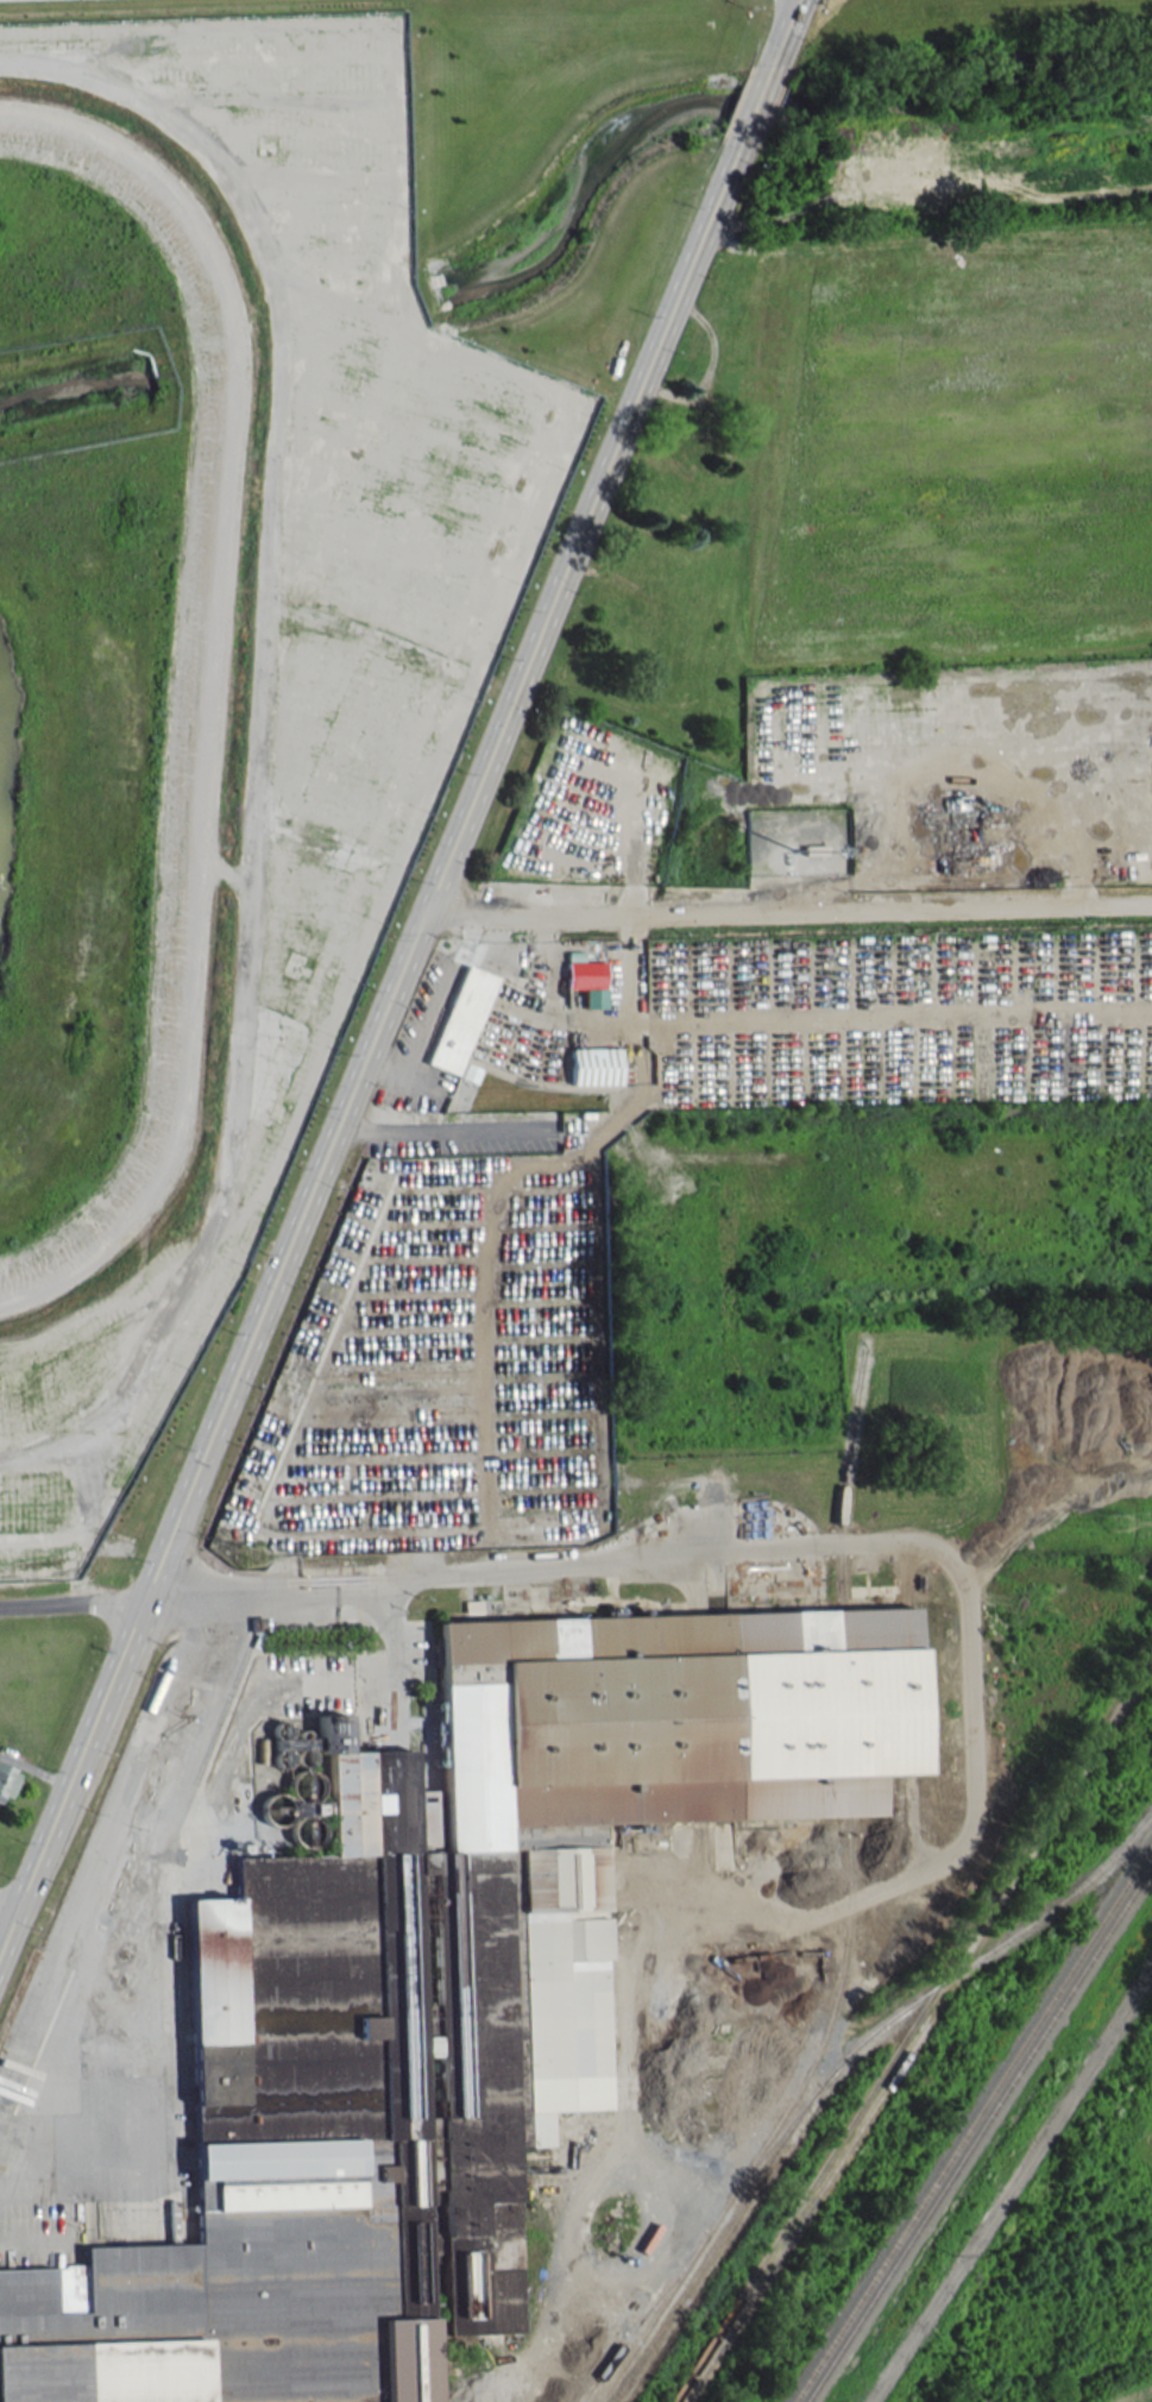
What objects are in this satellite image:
road: (782, 34)
road: (756, 103)
building: (695, 426)
crop: (951, 442)
raceway: (203, 678)
building: (390, 748)
road: (229, 875)
road: (787, 910)
building: (586, 981)
road: (440, 992)
building: (460, 1019)
road: (370, 1045)
road: (399, 1063)
building: (594, 1065)
road: (443, 1128)
road: (203, 1247)
power tower: (1119, 1515)
power tower: (253, 1553)
road: (234, 1598)
road: (73, 1603)
building: (7, 1780)
road: (8, 1907)
railway: (838, 1987)
building: (443, 1994)
railway: (909, 2026)
railway: (837, 2065)
railway: (970, 2120)
railway: (976, 2130)
crop: (1144, 2140)
railway: (810, 2203)
railway: (704, 2237)
railway: (632, 2325)
crop: (1140, 2397)

